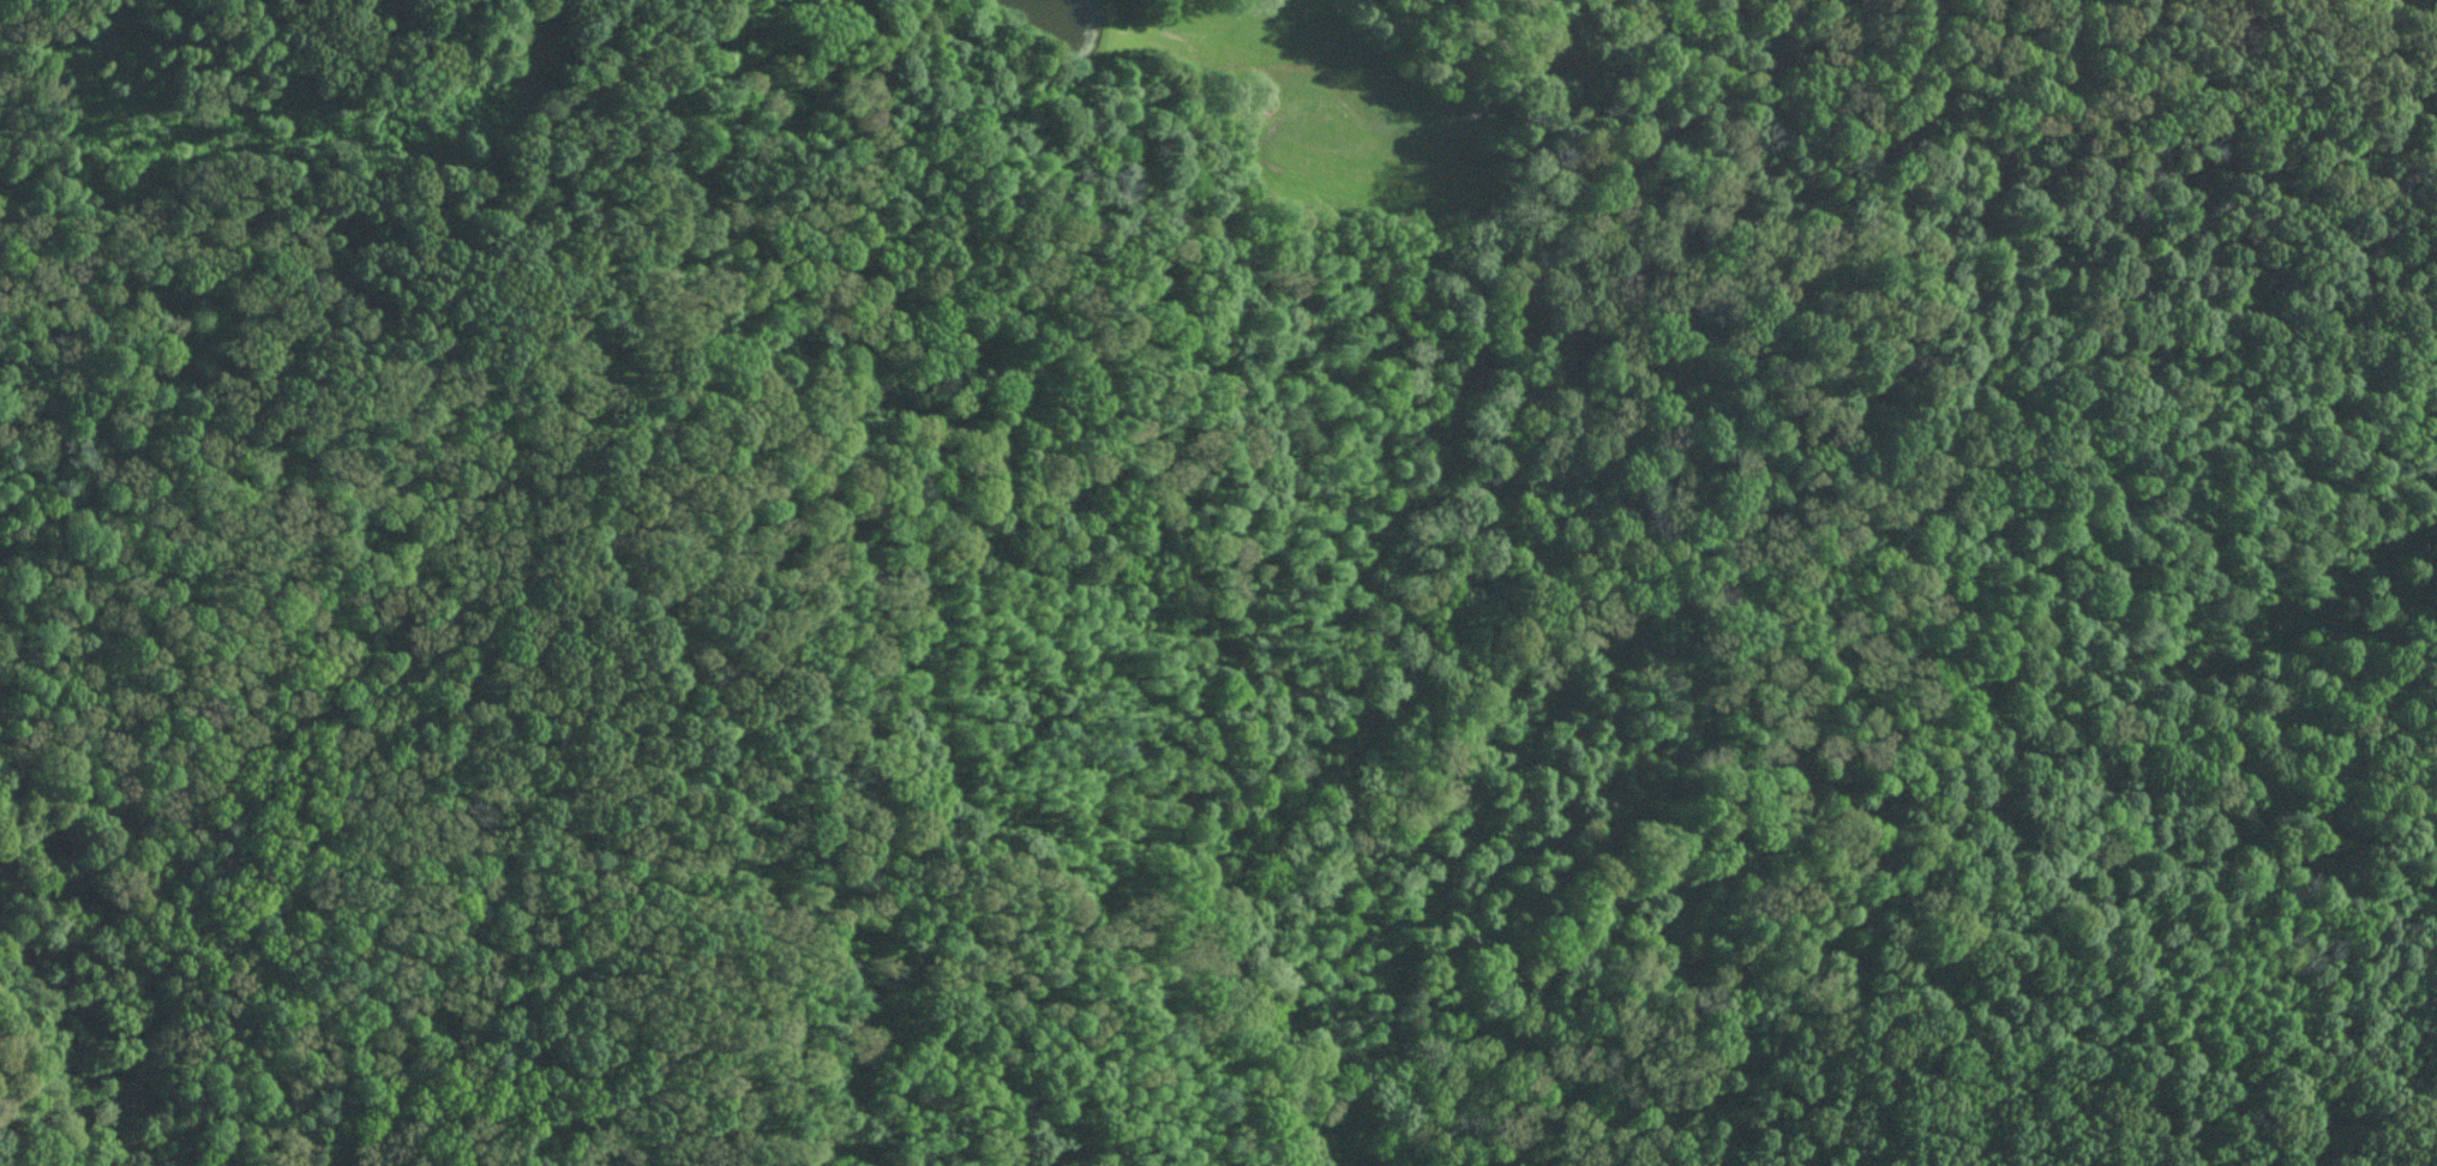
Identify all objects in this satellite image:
road: (1387, 49)
road: (643, 585)

